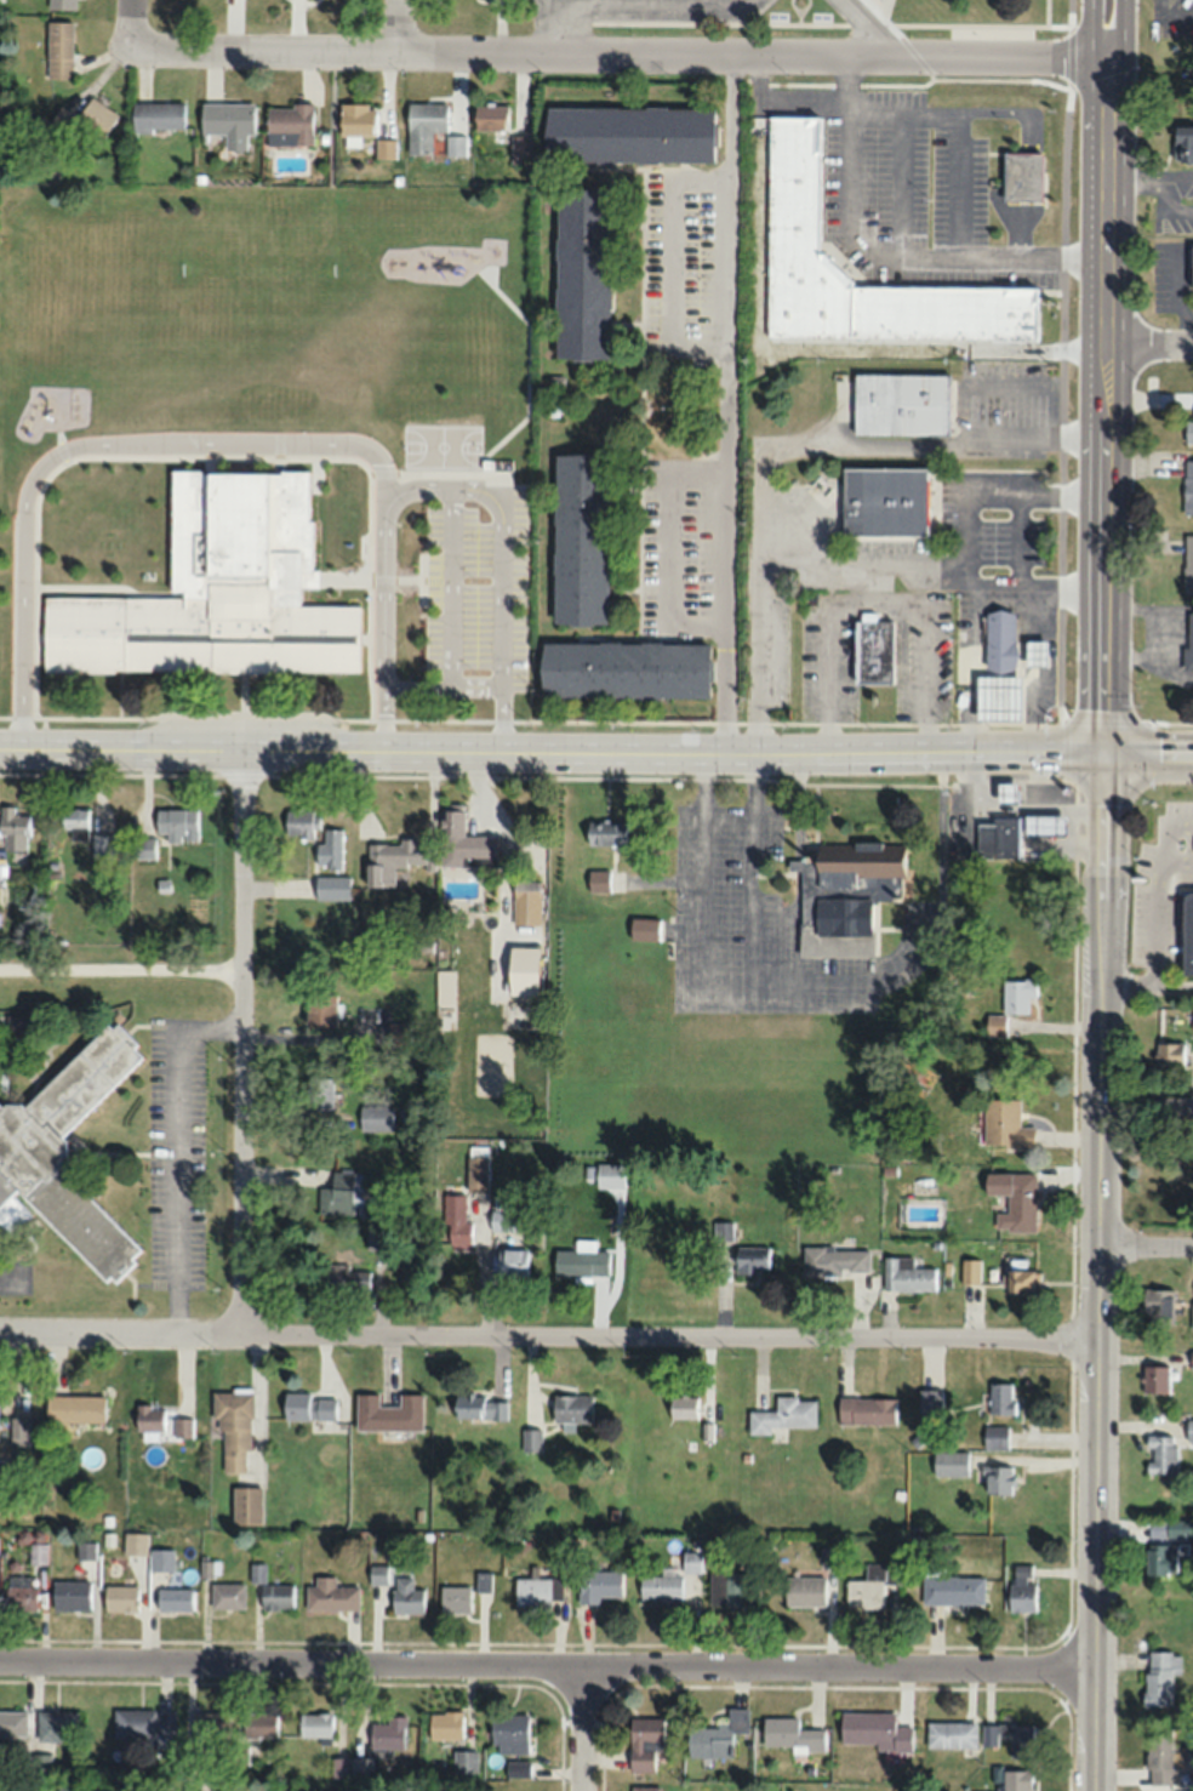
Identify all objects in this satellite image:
road: (596, 1)
road: (672, 2)
building: (62, 4)
road: (628, 4)
parking lot: (647, 10)
road: (874, 12)
road: (1045, 12)
road: (132, 22)
road: (861, 22)
road: (400, 24)
road: (801, 24)
road: (1102, 28)
road: (1115, 28)
building: (58, 50)
road: (621, 51)
road: (807, 101)
building: (156, 116)
building: (490, 116)
building: (62, 119)
building: (95, 119)
building: (356, 120)
building: (228, 122)
building: (289, 124)
building: (424, 125)
building: (628, 135)
building: (457, 144)
building: (1183, 144)
building: (520, 146)
building: (384, 148)
building: (1022, 177)
building: (793, 184)
road: (913, 261)
road: (675, 264)
building: (1191, 266)
building: (582, 273)
road: (1152, 341)
road: (1062, 380)
road: (729, 404)
building: (900, 404)
road: (1109, 409)
building: (1188, 430)
road: (90, 445)
building: (1188, 486)
building: (885, 500)
road: (500, 531)
building: (580, 537)
road: (674, 546)
building: (1187, 563)
road: (449, 587)
building: (219, 592)
road: (379, 598)
building: (999, 639)
building: (1189, 639)
building: (872, 650)
building: (1035, 651)
building: (623, 668)
road: (440, 688)
building: (998, 696)
road: (501, 719)
road: (382, 720)
road: (192, 748)
road: (444, 752)
road: (803, 755)
road: (1148, 760)
building: (1008, 792)
building: (74, 822)
building: (297, 822)
building: (176, 823)
building: (1045, 823)
building: (13, 828)
building: (609, 831)
building: (997, 838)
building: (463, 840)
building: (102, 845)
building: (144, 848)
building: (330, 849)
building: (394, 859)
road: (1176, 860)
building: (598, 880)
building: (331, 886)
building: (843, 895)
building: (525, 902)
road: (1155, 920)
building: (644, 928)
building: (1187, 934)
road: (120, 968)
road: (1172, 988)
building: (1010, 1003)
building: (320, 1006)
building: (398, 1032)
road: (242, 1042)
building: (1168, 1053)
building: (318, 1093)
road: (1147, 1103)
building: (375, 1117)
building: (1004, 1123)
building: (32, 1152)
building: (476, 1165)
building: (609, 1174)
building: (337, 1194)
building: (1015, 1199)
building: (0, 1216)
building: (457, 1217)
building: (500, 1219)
road: (1146, 1242)
building: (750, 1259)
building: (834, 1260)
building: (510, 1261)
building: (580, 1261)
building: (906, 1274)
building: (1020, 1276)
road: (1098, 1276)
building: (346, 1278)
building: (1157, 1306)
building: (1191, 1314)
road: (548, 1334)
building: (1191, 1359)
building: (1155, 1379)
building: (1000, 1397)
building: (930, 1403)
building: (308, 1407)
building: (479, 1407)
building: (681, 1407)
building: (74, 1408)
building: (571, 1409)
building: (866, 1410)
building: (387, 1413)
building: (782, 1415)
building: (149, 1420)
building: (182, 1427)
building: (232, 1428)
building: (1189, 1430)
building: (18, 1431)
building: (994, 1437)
building: (530, 1439)
building: (1159, 1453)
building: (949, 1464)
building: (997, 1479)
building: (245, 1505)
building: (1178, 1528)
building: (36, 1552)
building: (159, 1558)
building: (1160, 1558)
building: (377, 1573)
building: (667, 1580)
building: (599, 1585)
building: (1021, 1586)
building: (734, 1588)
building: (866, 1588)
building: (537, 1590)
building: (804, 1590)
building: (952, 1590)
building: (18, 1591)
building: (69, 1593)
building: (226, 1595)
building: (330, 1595)
building: (275, 1596)
building: (405, 1596)
building: (119, 1597)
building: (173, 1598)
building: (453, 1598)
road: (546, 1662)
building: (1158, 1676)
building: (12, 1722)
building: (143, 1722)
building: (55, 1724)
building: (257, 1724)
building: (445, 1724)
building: (314, 1726)
building: (207, 1727)
road: (581, 1727)
building: (874, 1730)
building: (388, 1732)
building: (508, 1732)
building: (951, 1734)
building: (717, 1735)
building: (790, 1735)
building: (1021, 1740)
building: (644, 1741)
building: (1158, 1758)
building: (464, 1761)
building: (40, 1763)
building: (349, 1767)
building: (1016, 1780)
building: (65, 1785)
building: (644, 1787)

